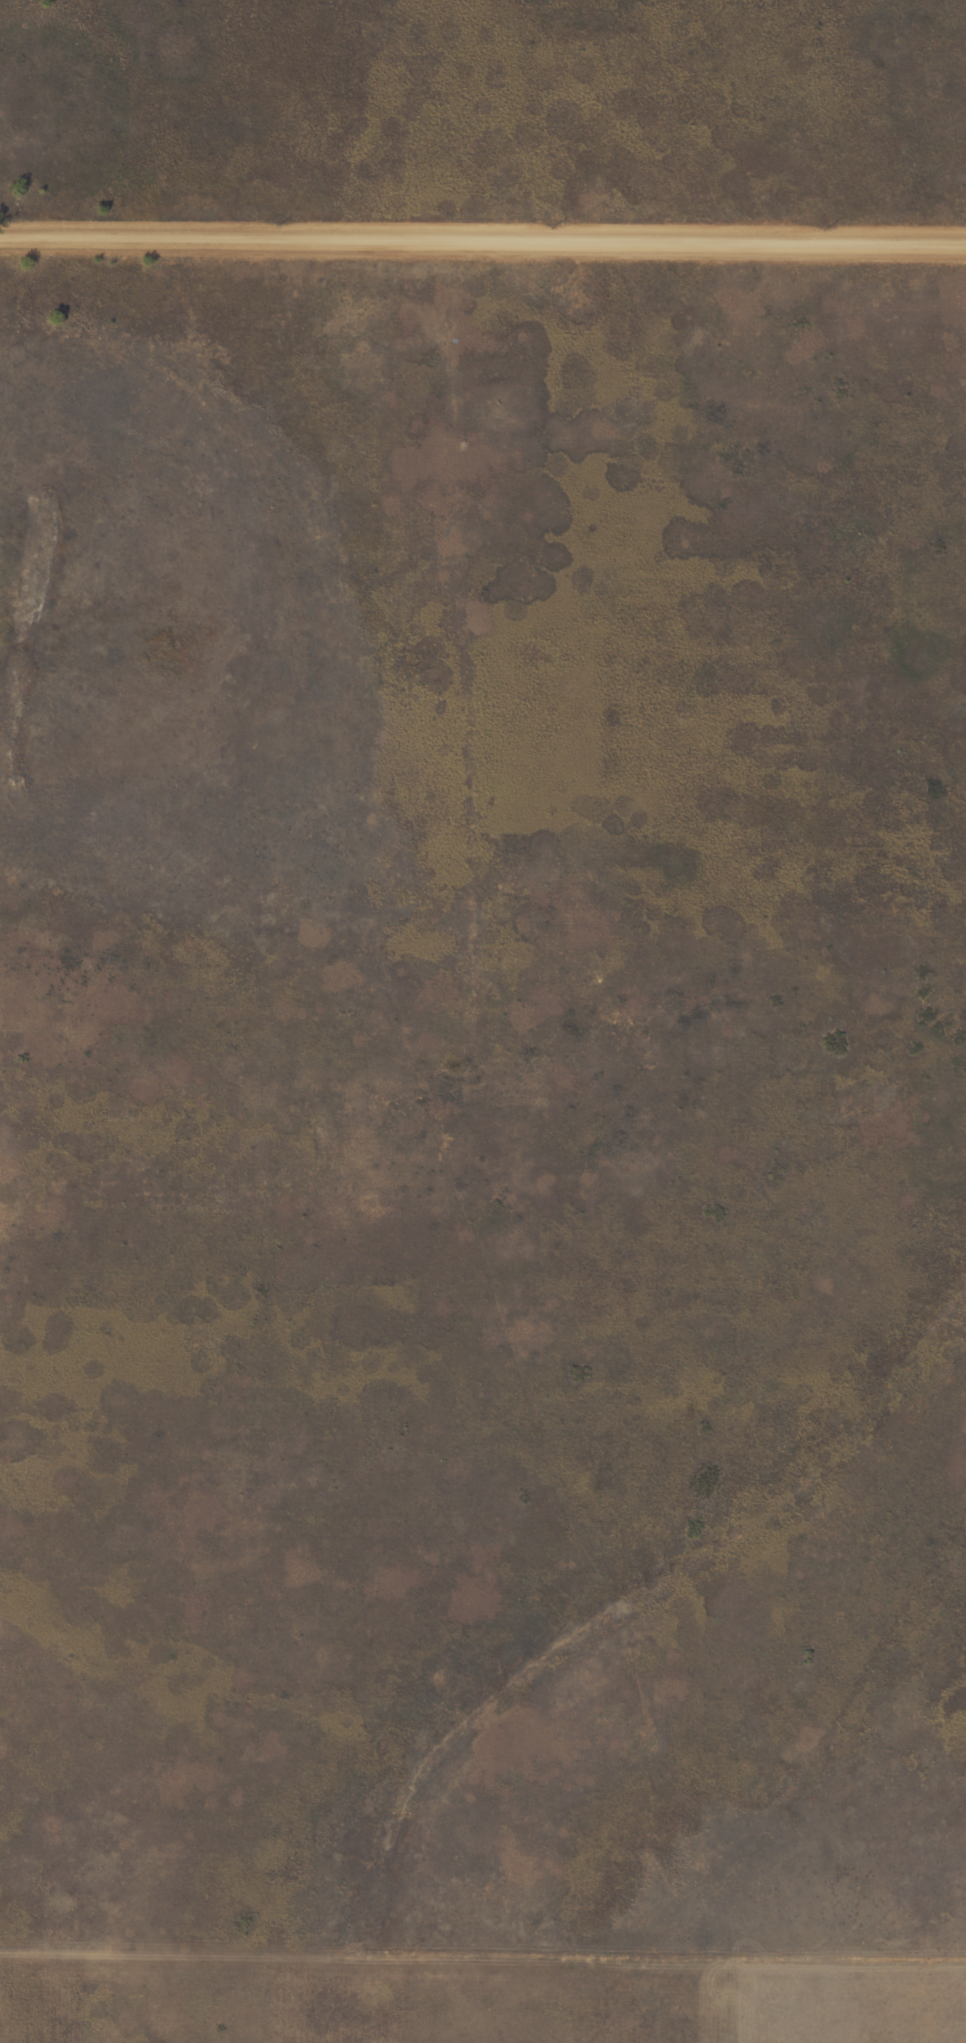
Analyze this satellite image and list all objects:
road: (483, 233)
road: (658, 1629)
road: (413, 1948)

